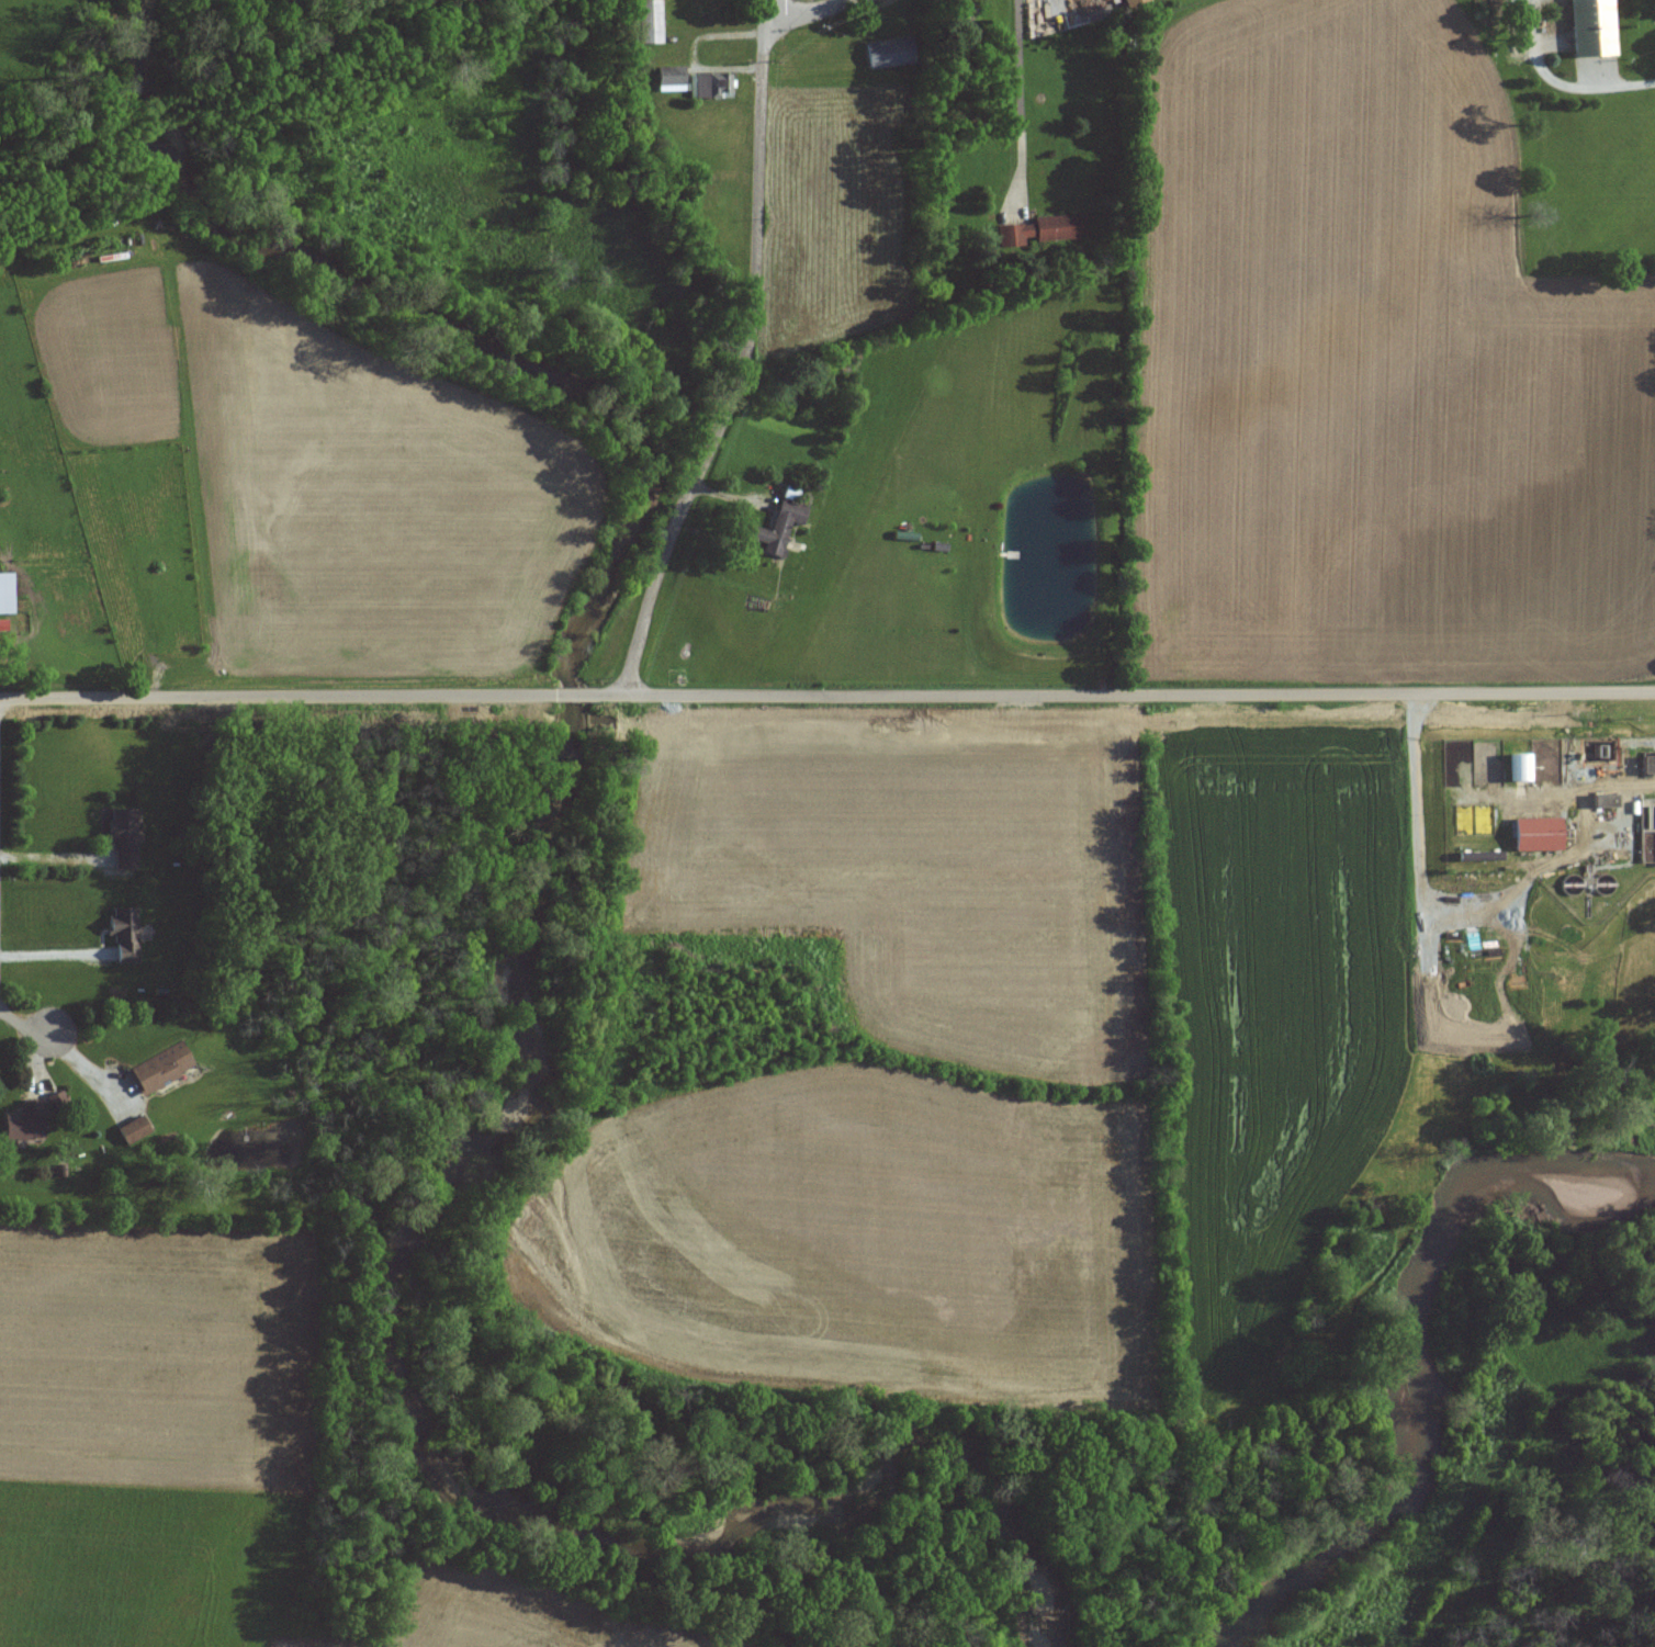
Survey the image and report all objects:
building: (1132, 2)
road: (763, 7)
road: (803, 12)
building: (959, 12)
building: (646, 22)
building: (1590, 27)
building: (883, 55)
building: (667, 79)
building: (707, 87)
road: (1576, 88)
road: (1020, 97)
building: (1044, 229)
road: (741, 363)
building: (777, 527)
building: (7, 594)
road: (1125, 691)
road: (575, 693)
road: (277, 696)
building: (1646, 764)
building: (1517, 768)
building: (1601, 802)
wastewater plant: (1553, 813)
building: (1532, 835)
building: (120, 838)
road: (50, 858)
building: (121, 935)
road: (23, 1028)
building: (160, 1069)
building: (24, 1124)
building: (134, 1130)
river: (1444, 1363)

